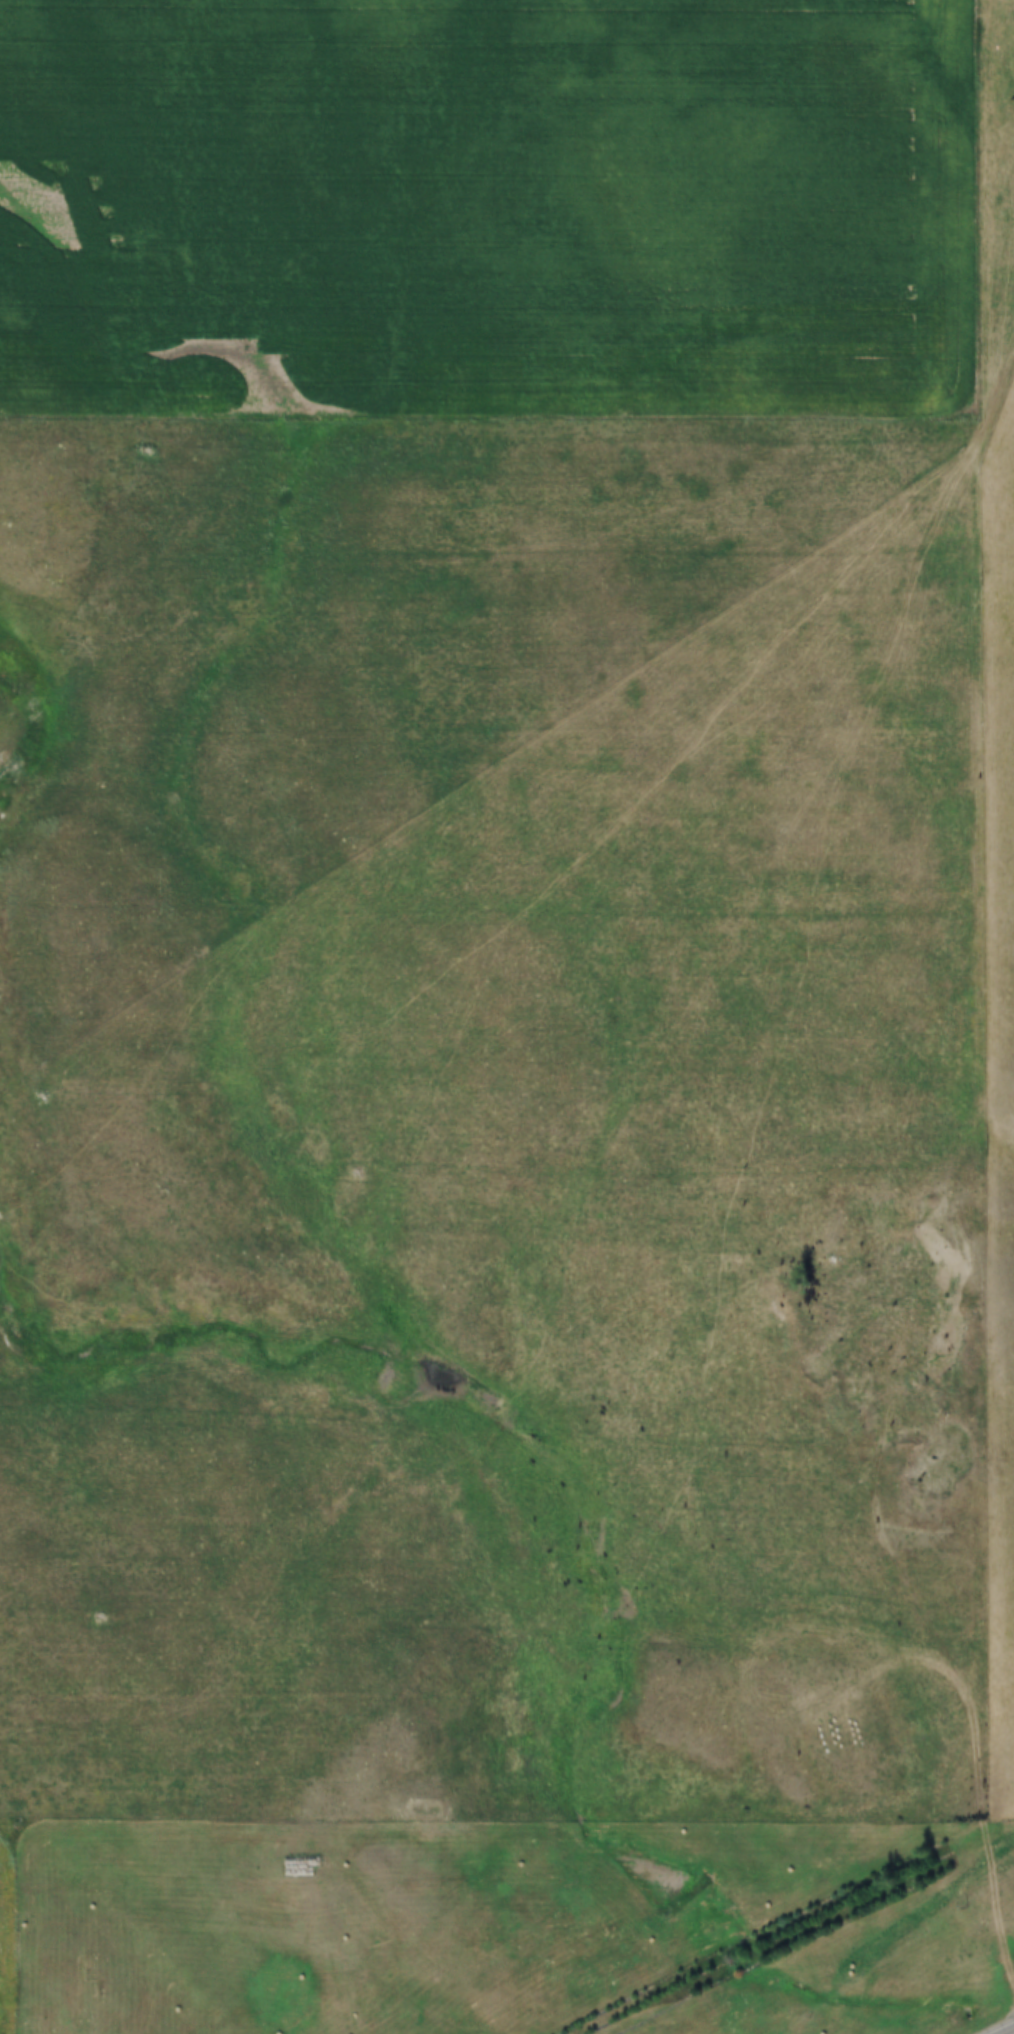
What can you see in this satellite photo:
road: (980, 1769)
road: (1012, 2033)

